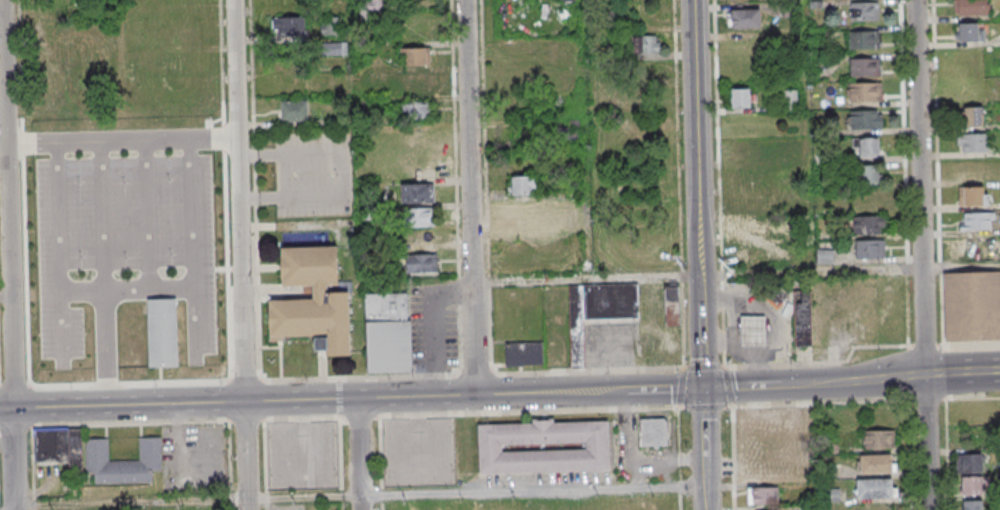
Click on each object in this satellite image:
building: (377, 3)
building: (970, 7)
building: (54, 8)
building: (864, 11)
building: (745, 18)
building: (330, 25)
building: (289, 27)
building: (970, 32)
building: (54, 34)
building: (863, 39)
building: (645, 44)
building: (335, 48)
building: (414, 56)
building: (864, 66)
building: (418, 81)
building: (864, 91)
building: (740, 97)
building: (293, 110)
building: (417, 111)
building: (974, 116)
building: (865, 118)
road: (695, 138)
road: (583, 139)
building: (972, 142)
road: (120, 143)
building: (865, 147)
building: (869, 175)
building: (522, 186)
building: (416, 193)
building: (973, 196)
road: (468, 197)
road: (355, 199)
building: (561, 209)
building: (422, 216)
road: (148, 217)
building: (976, 221)
building: (869, 226)
building: (749, 228)
parking lot: (123, 249)
road: (193, 249)
building: (869, 250)
building: (977, 251)
road: (59, 253)
road: (7, 254)
road: (239, 254)
road: (920, 254)
building: (824, 257)
building: (420, 263)
road: (234, 270)
road: (849, 271)
road: (103, 275)
road: (584, 279)
road: (699, 285)
road: (127, 291)
building: (771, 293)
building: (312, 300)
building: (971, 306)
building: (598, 310)
building: (802, 316)
building: (753, 330)
building: (388, 333)
building: (162, 334)
road: (700, 340)
road: (968, 347)
road: (924, 348)
building: (524, 354)
road: (822, 364)
road: (726, 375)
road: (962, 375)
road: (852, 381)
road: (15, 387)
road: (741, 387)
road: (65, 388)
traffic signals: (702, 388)
road: (664, 389)
road: (550, 392)
road: (338, 401)
road: (237, 402)
road: (702, 424)
building: (791, 431)
building: (653, 434)
building: (879, 439)
building: (60, 446)
building: (543, 447)
road: (358, 454)
road: (634, 457)
building: (123, 461)
building: (876, 463)
building: (969, 463)
road: (704, 485)
building: (972, 485)
building: (876, 488)
road: (532, 492)
building: (763, 495)
road: (207, 502)
building: (972, 505)

